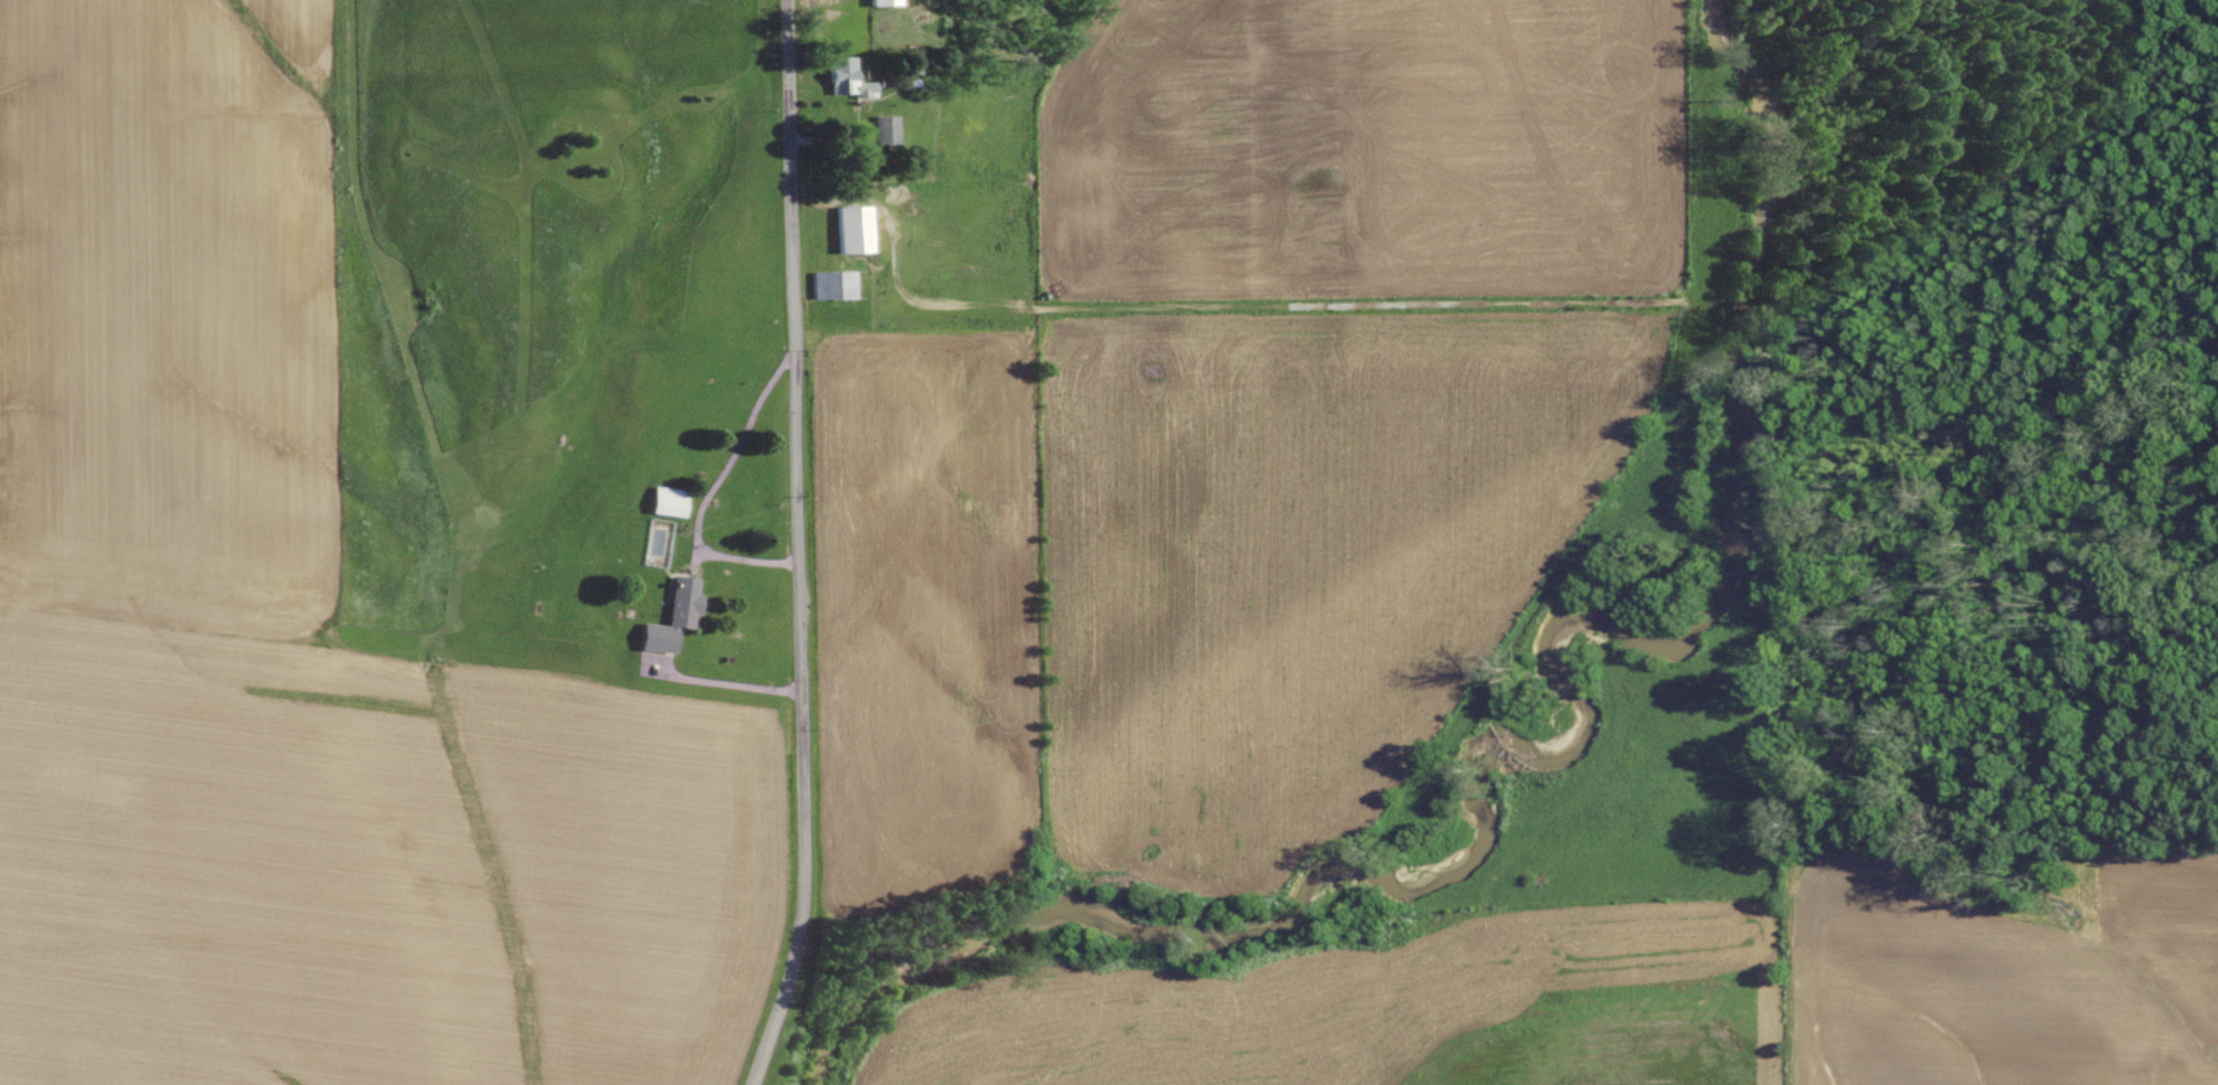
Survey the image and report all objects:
building: (885, 3)
building: (848, 79)
building: (887, 129)
building: (853, 230)
building: (834, 285)
building: (669, 502)
road: (799, 546)
building: (673, 617)
road: (726, 685)

